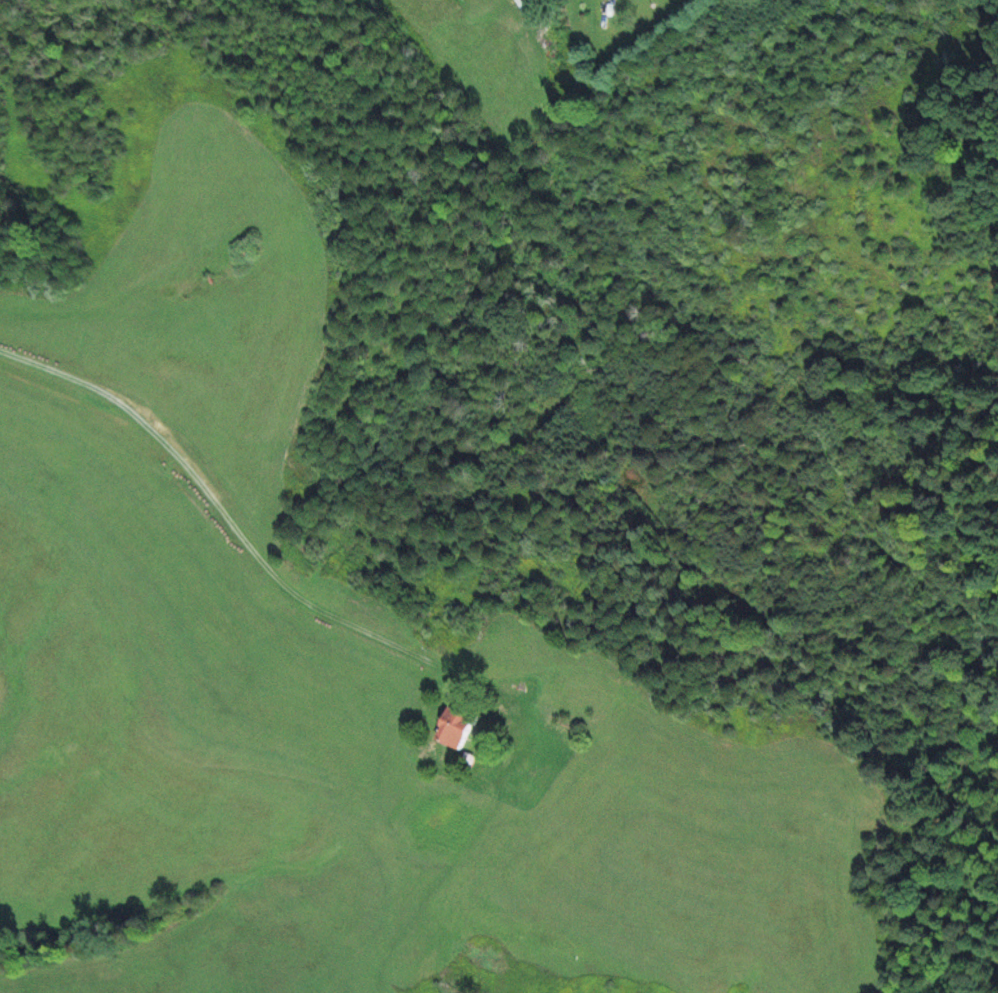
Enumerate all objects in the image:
road: (212, 521)
building: (454, 728)

